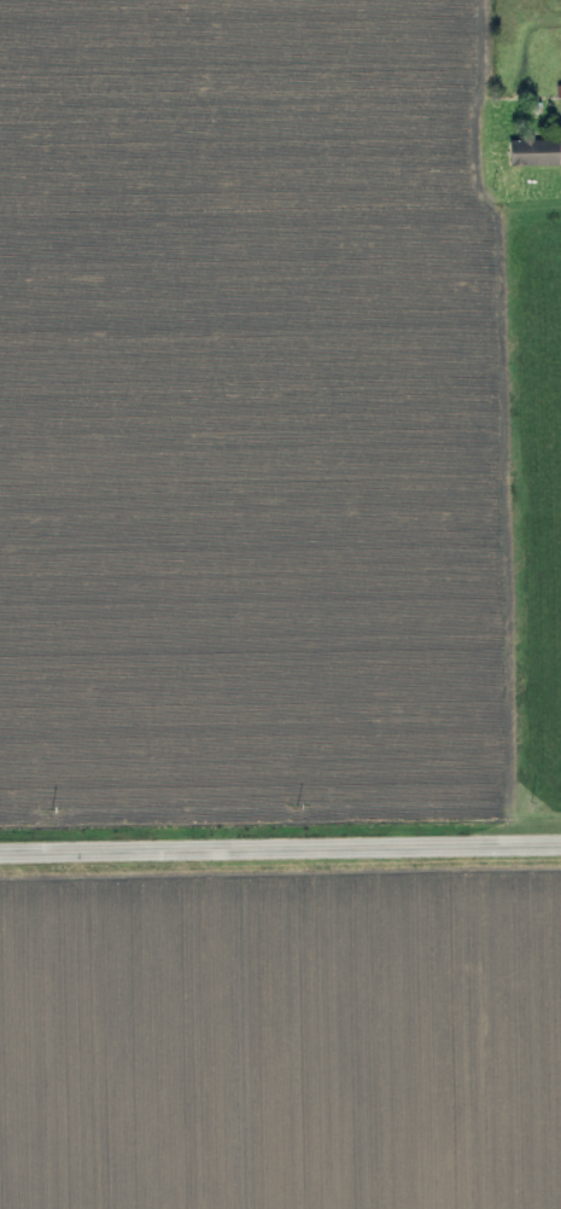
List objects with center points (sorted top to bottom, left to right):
building: (534, 151)
road: (280, 848)

